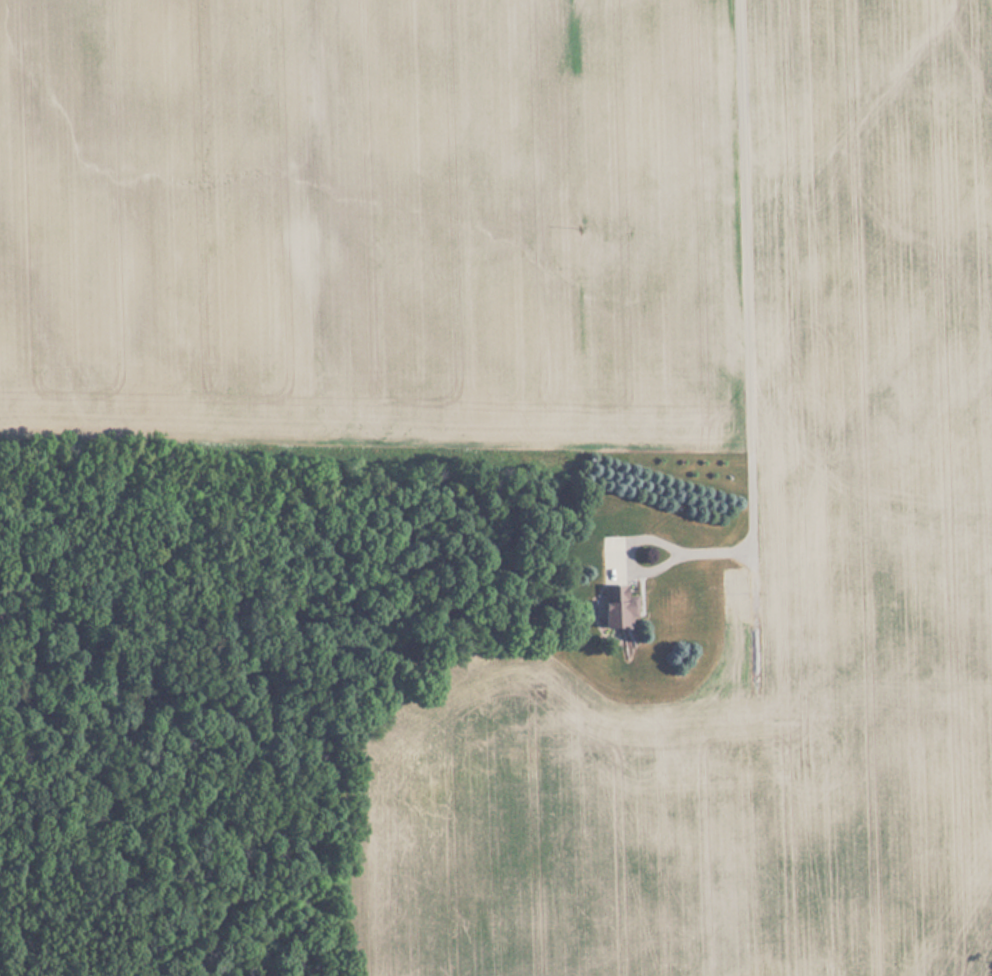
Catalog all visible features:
building: (616, 608)

